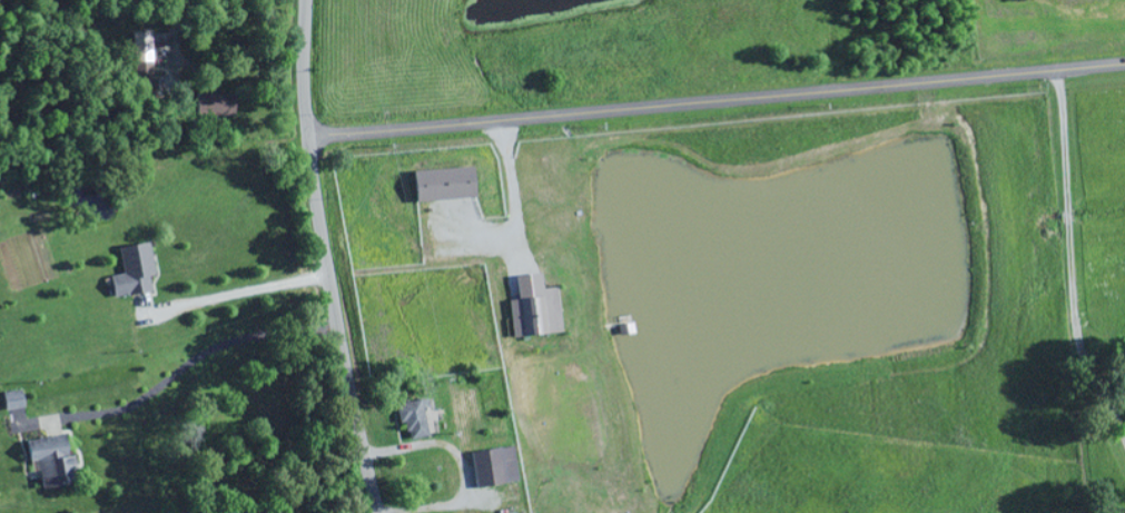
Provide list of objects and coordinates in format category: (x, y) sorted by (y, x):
building: (141, 53)
road: (716, 103)
building: (213, 105)
building: (441, 184)
road: (323, 258)
building: (131, 270)
building: (532, 308)
building: (10, 401)
building: (412, 420)
building: (49, 462)
building: (492, 466)

